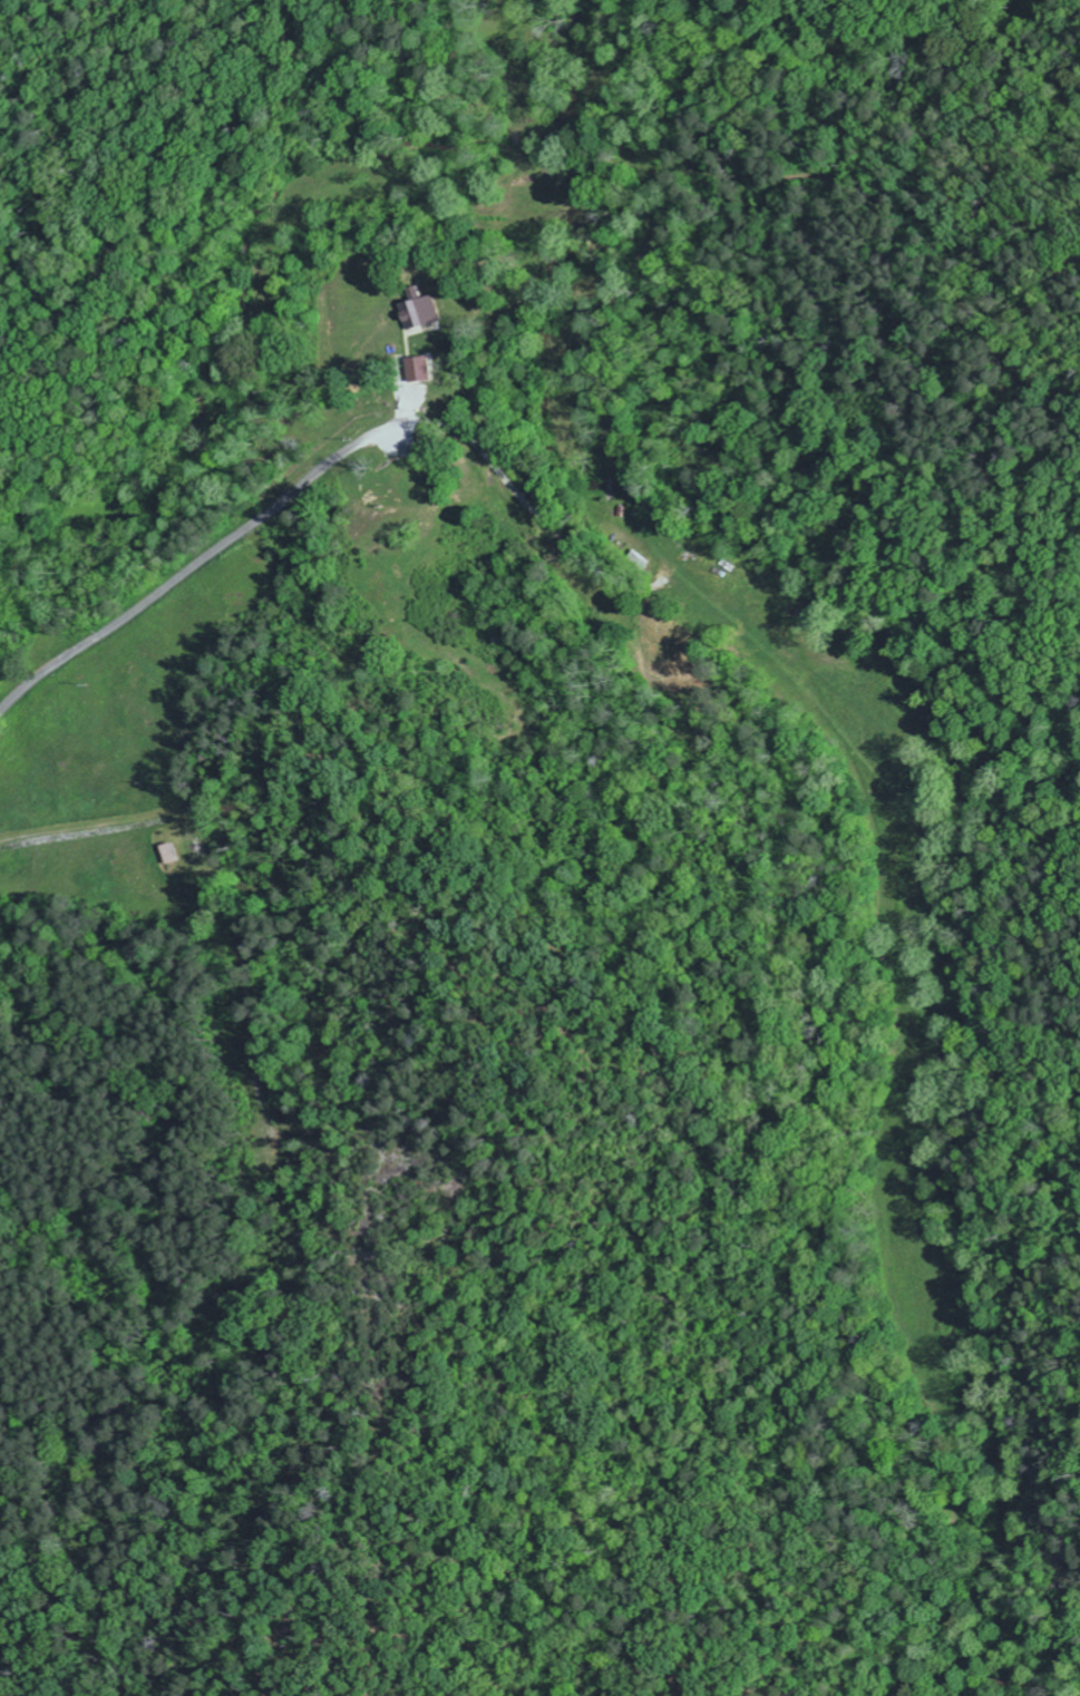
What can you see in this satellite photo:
building: (434, 312)
building: (429, 369)
road: (181, 579)
building: (177, 854)

